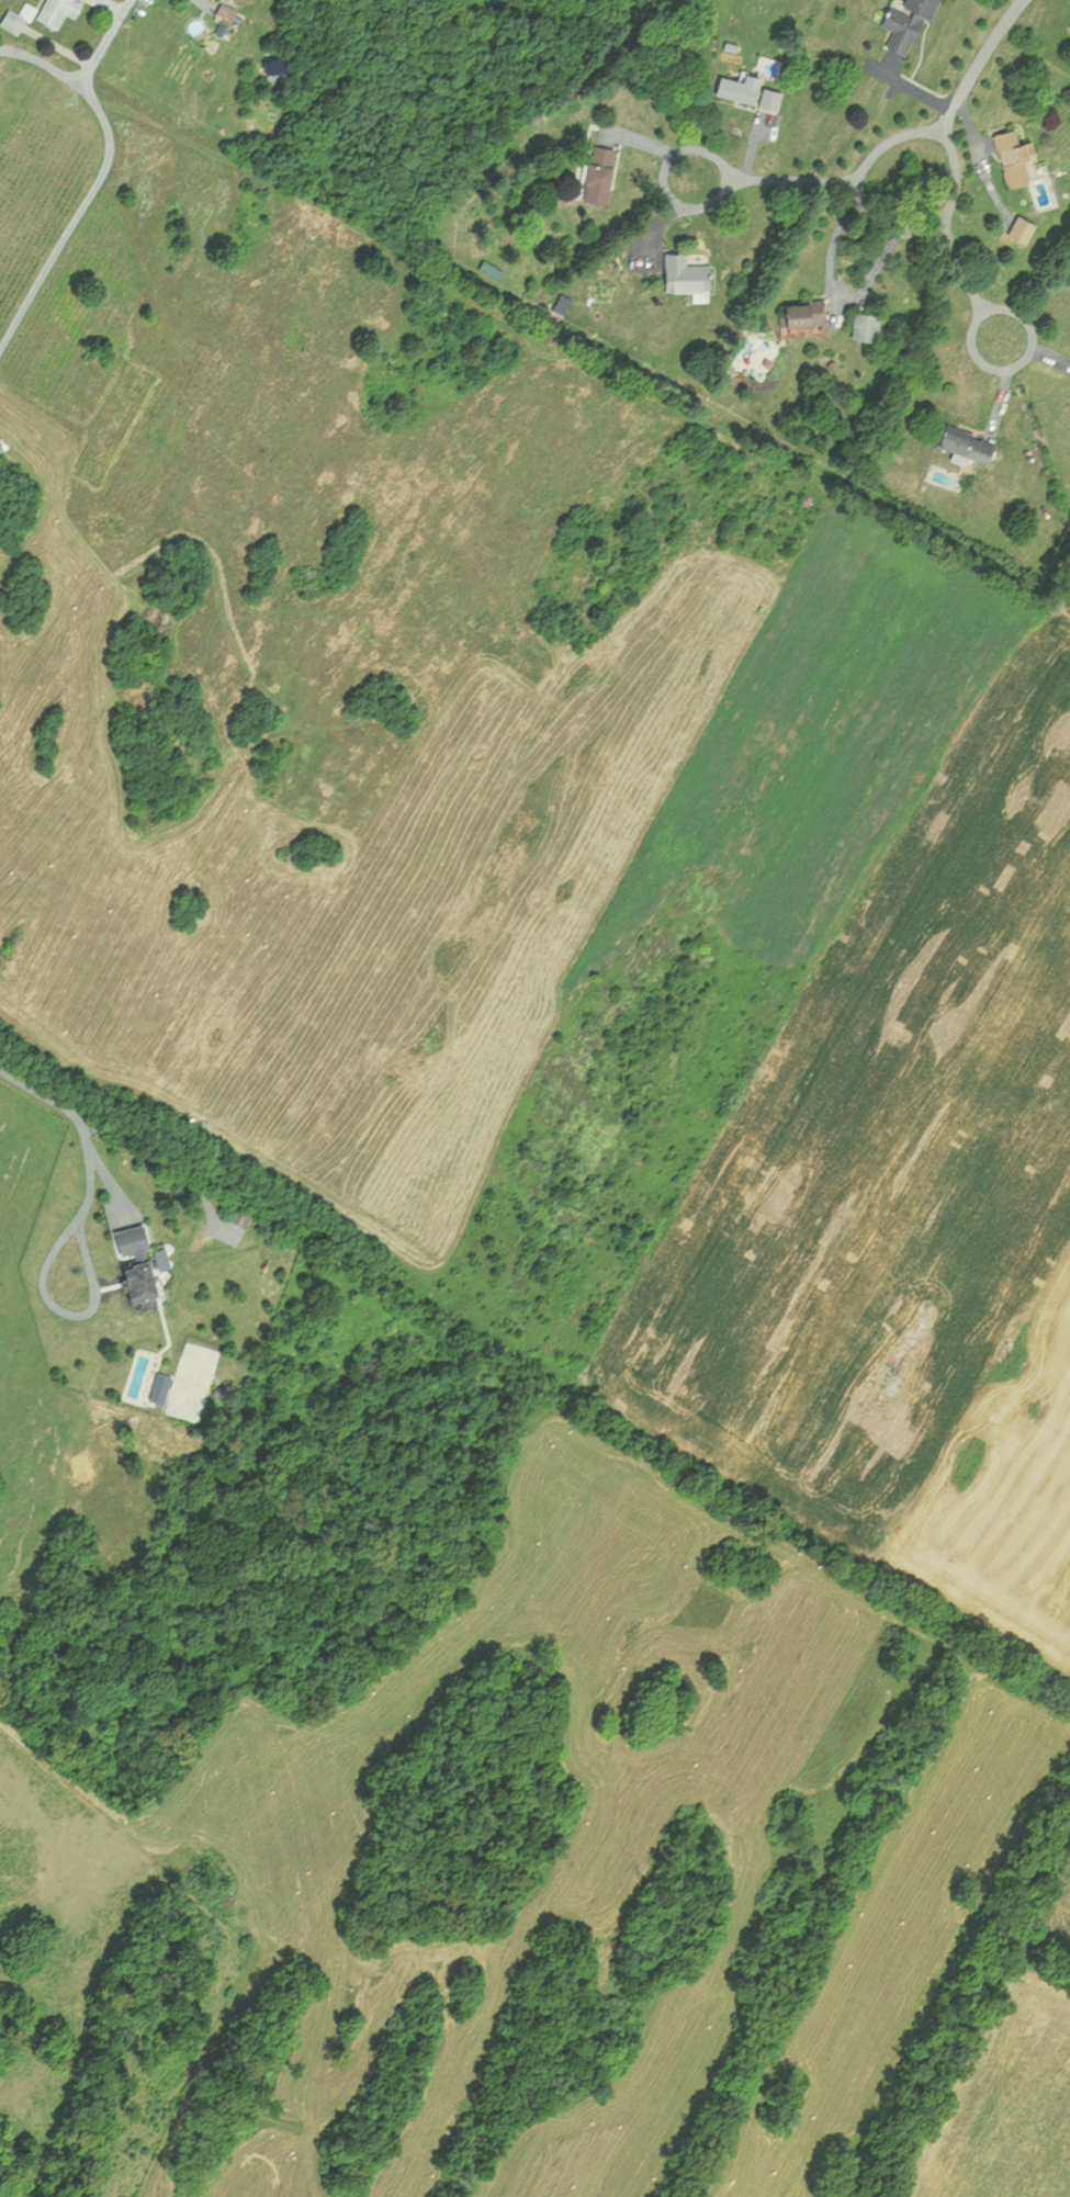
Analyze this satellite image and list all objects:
building: (57, 11)
building: (226, 11)
building: (12, 20)
building: (905, 21)
road: (106, 40)
road: (43, 58)
road: (964, 88)
building: (735, 89)
building: (770, 98)
building: (1012, 155)
building: (599, 173)
road: (803, 179)
road: (72, 213)
road: (957, 259)
building: (489, 268)
building: (683, 272)
building: (802, 311)
building: (865, 324)
building: (965, 442)
road: (77, 1118)
building: (240, 1215)
building: (132, 1262)

